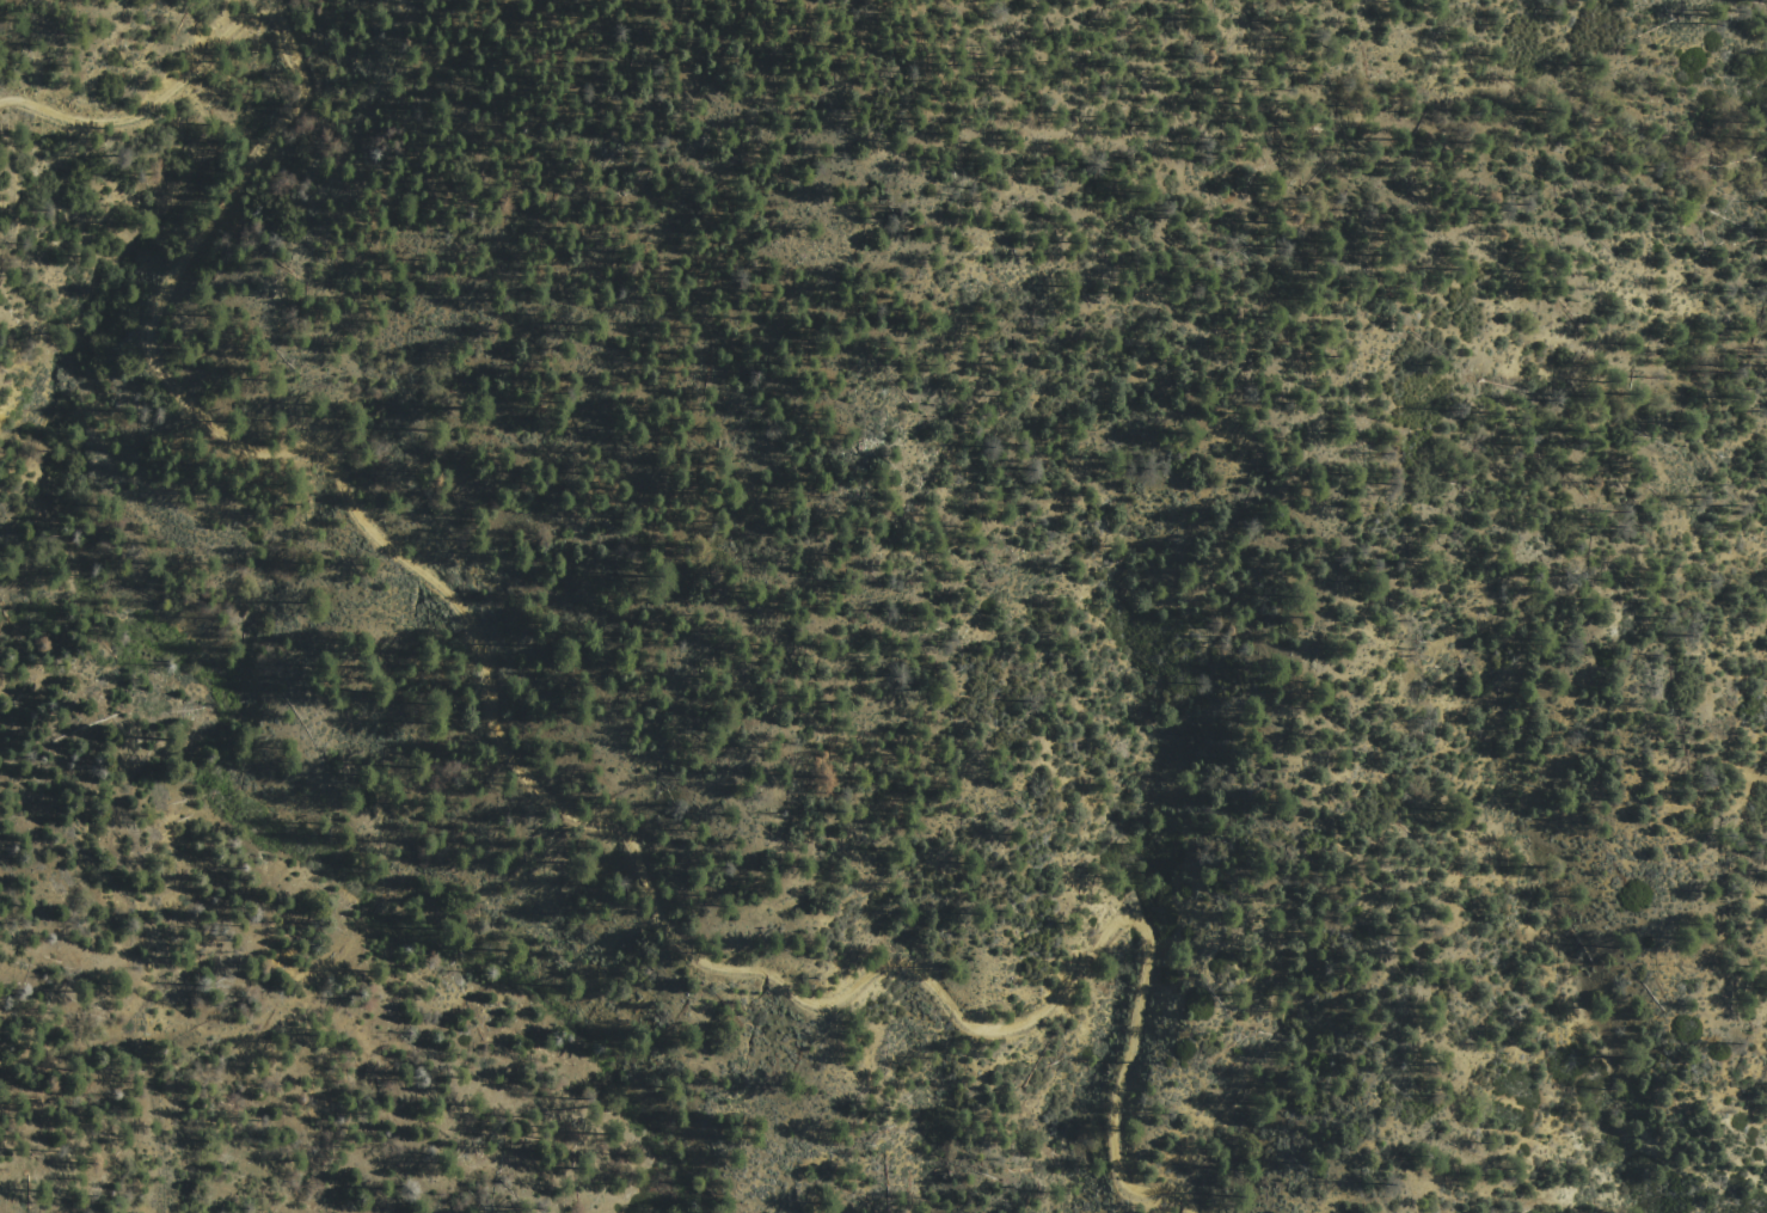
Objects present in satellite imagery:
road: (490, 700)

